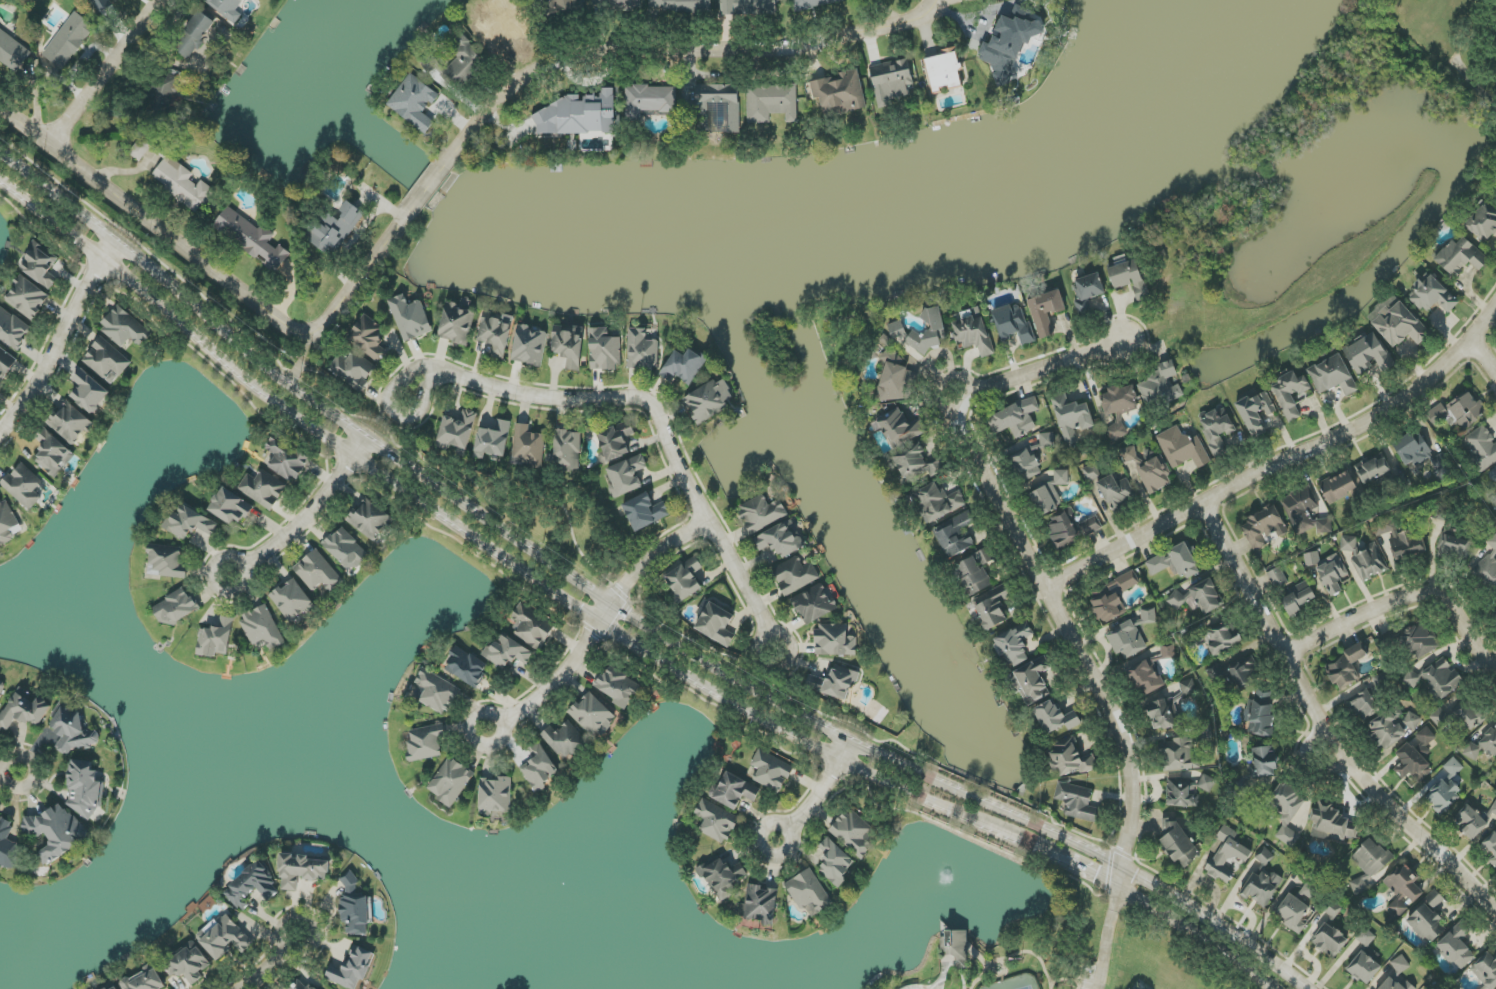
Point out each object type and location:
building: (117, 0)
building: (258, 0)
building: (105, 2)
building: (813, 3)
building: (620, 4)
building: (680, 5)
building: (563, 7)
building: (748, 7)
building: (227, 8)
building: (504, 28)
building: (1, 31)
building: (194, 35)
building: (69, 40)
building: (1009, 46)
road: (676, 50)
building: (12, 52)
building: (456, 62)
building: (944, 71)
road: (104, 73)
building: (891, 81)
building: (163, 91)
building: (839, 94)
building: (649, 101)
building: (414, 102)
building: (772, 102)
building: (716, 109)
building: (578, 115)
building: (141, 149)
road: (430, 186)
building: (1484, 223)
road: (152, 225)
building: (334, 229)
building: (251, 238)
building: (1461, 257)
building: (40, 265)
road: (362, 275)
building: (1129, 278)
building: (1089, 289)
building: (1432, 295)
building: (27, 297)
building: (1046, 312)
building: (410, 318)
building: (1395, 321)
building: (1014, 323)
building: (457, 324)
building: (124, 328)
building: (13, 330)
building: (896, 330)
building: (930, 331)
building: (496, 333)
building: (974, 335)
building: (369, 338)
road: (60, 340)
building: (569, 345)
building: (529, 346)
building: (605, 350)
building: (642, 350)
building: (1369, 354)
road: (1484, 356)
building: (106, 361)
building: (684, 366)
building: (353, 370)
building: (893, 375)
building: (1333, 376)
building: (1159, 383)
building: (89, 391)
building: (1291, 394)
road: (603, 399)
building: (709, 400)
building: (1119, 408)
building: (1460, 410)
building: (1257, 413)
building: (1016, 418)
building: (1072, 418)
building: (70, 423)
building: (900, 428)
building: (1217, 430)
building: (457, 432)
building: (493, 440)
building: (614, 441)
building: (1045, 442)
building: (528, 446)
building: (1182, 448)
building: (1412, 448)
building: (1481, 448)
building: (568, 450)
building: (53, 453)
building: (1129, 455)
building: (286, 459)
road: (1287, 461)
building: (916, 462)
building: (1025, 465)
building: (1373, 468)
building: (1090, 471)
building: (1155, 475)
building: (1493, 475)
building: (626, 476)
building: (24, 486)
building: (1339, 487)
building: (263, 489)
building: (1115, 490)
building: (1050, 494)
building: (937, 502)
building: (231, 507)
road: (312, 508)
building: (645, 512)
building: (1305, 512)
building: (761, 513)
building: (370, 519)
building: (7, 522)
building: (190, 523)
building: (1263, 527)
building: (1070, 528)
building: (956, 535)
building: (781, 540)
building: (1349, 544)
building: (1406, 545)
building: (1454, 546)
building: (346, 549)
road: (655, 557)
building: (167, 561)
road: (1041, 561)
building: (1174, 562)
building: (1369, 563)
building: (1488, 568)
building: (1328, 570)
building: (318, 572)
building: (975, 573)
building: (795, 575)
building: (1277, 578)
building: (685, 579)
road: (239, 590)
building: (1113, 598)
building: (1198, 598)
road: (1405, 598)
building: (1298, 599)
building: (292, 601)
building: (815, 605)
building: (175, 608)
building: (993, 611)
building: (1494, 611)
road: (625, 613)
building: (1148, 615)
building: (717, 624)
building: (532, 626)
building: (262, 627)
road: (607, 629)
building: (1222, 638)
building: (216, 639)
building: (835, 640)
building: (1127, 640)
building: (1418, 640)
building: (1015, 644)
building: (507, 652)
building: (466, 667)
building: (1346, 668)
road: (565, 672)
building: (1146, 678)
building: (1435, 679)
building: (1030, 681)
building: (0, 683)
building: (834, 683)
building: (619, 687)
building: (437, 691)
building: (1362, 705)
building: (24, 710)
building: (593, 714)
building: (1163, 714)
building: (1056, 717)
building: (1260, 717)
road: (1327, 721)
building: (1392, 727)
building: (72, 729)
road: (496, 741)
building: (564, 741)
building: (426, 743)
building: (1483, 744)
building: (1177, 755)
building: (1416, 757)
building: (1069, 759)
building: (1265, 762)
building: (539, 767)
building: (1453, 767)
building: (771, 771)
road: (9, 772)
building: (451, 781)
building: (84, 787)
building: (1187, 790)
building: (735, 791)
road: (817, 795)
building: (496, 796)
building: (1444, 796)
building: (1077, 802)
building: (1288, 812)
building: (716, 821)
building: (1475, 821)
building: (1332, 824)
building: (56, 832)
building: (853, 833)
building: (7, 845)
building: (1179, 845)
building: (1491, 847)
building: (1227, 854)
building: (1264, 856)
building: (834, 862)
building: (1369, 863)
building: (301, 871)
building: (722, 877)
building: (253, 886)
fountain: (948, 886)
building: (1262, 887)
building: (1403, 889)
building: (809, 893)
building: (759, 905)
building: (355, 910)
building: (1295, 914)
building: (1428, 920)
building: (224, 937)
road: (1107, 940)
building: (1330, 940)
building: (957, 946)
building: (1456, 948)
building: (1364, 959)
building: (191, 964)
road: (270, 964)
building: (1400, 965)
building: (352, 968)
building: (1486, 971)
building: (145, 980)
building: (1396, 984)
building: (302, 986)
building: (112, 987)

